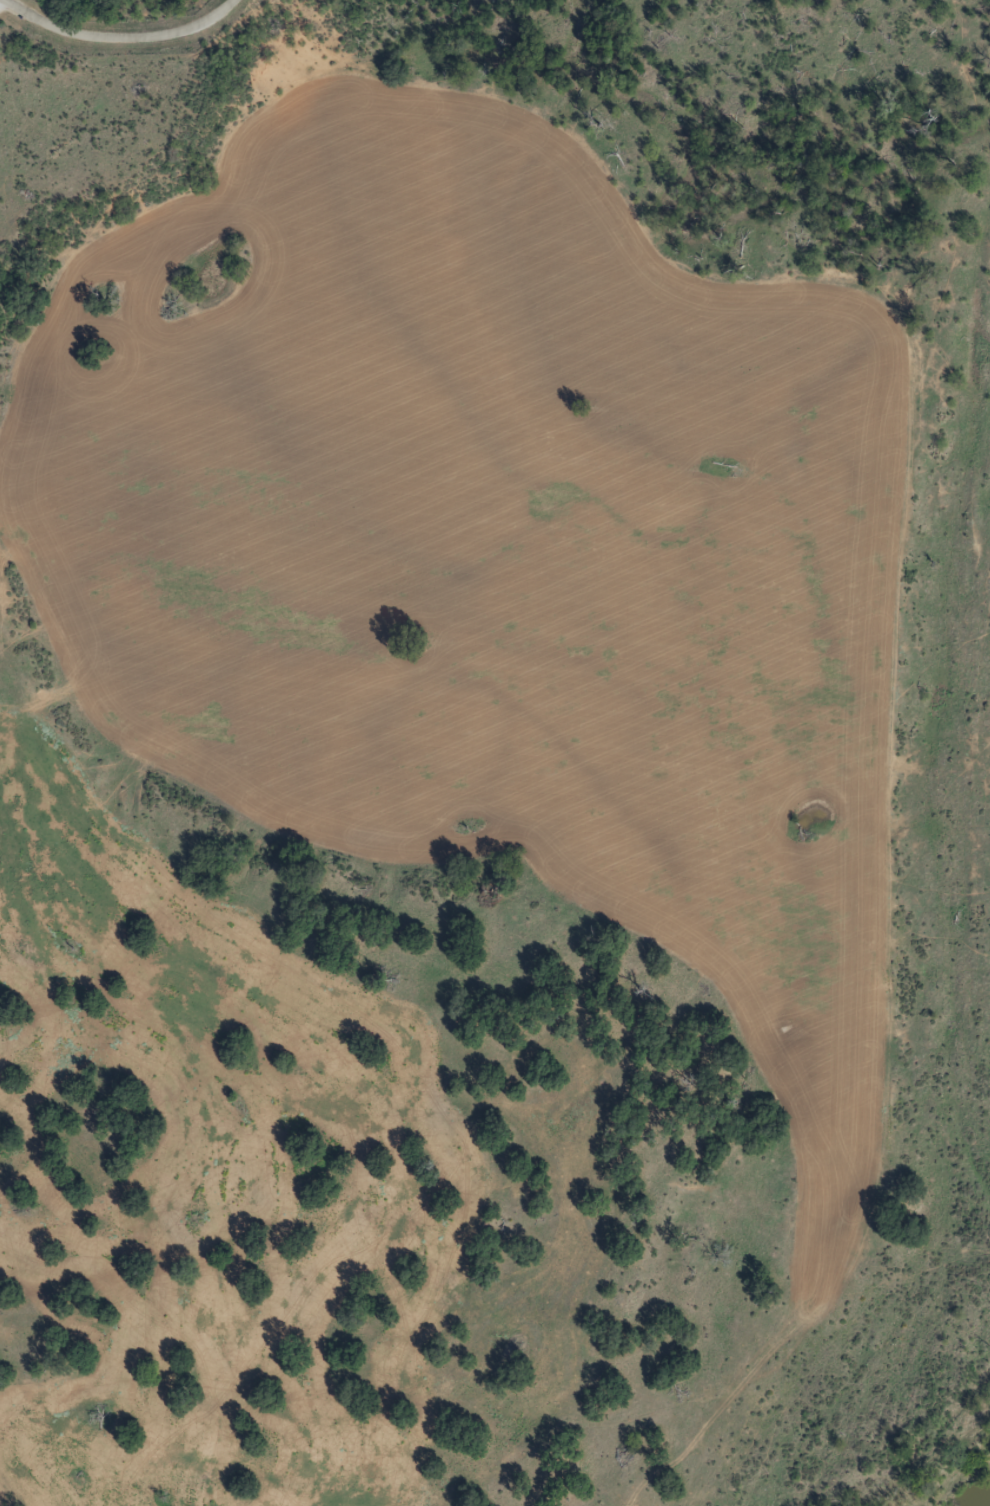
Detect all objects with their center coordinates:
road: (151, 58)
road: (14, 64)
road: (324, 1196)

